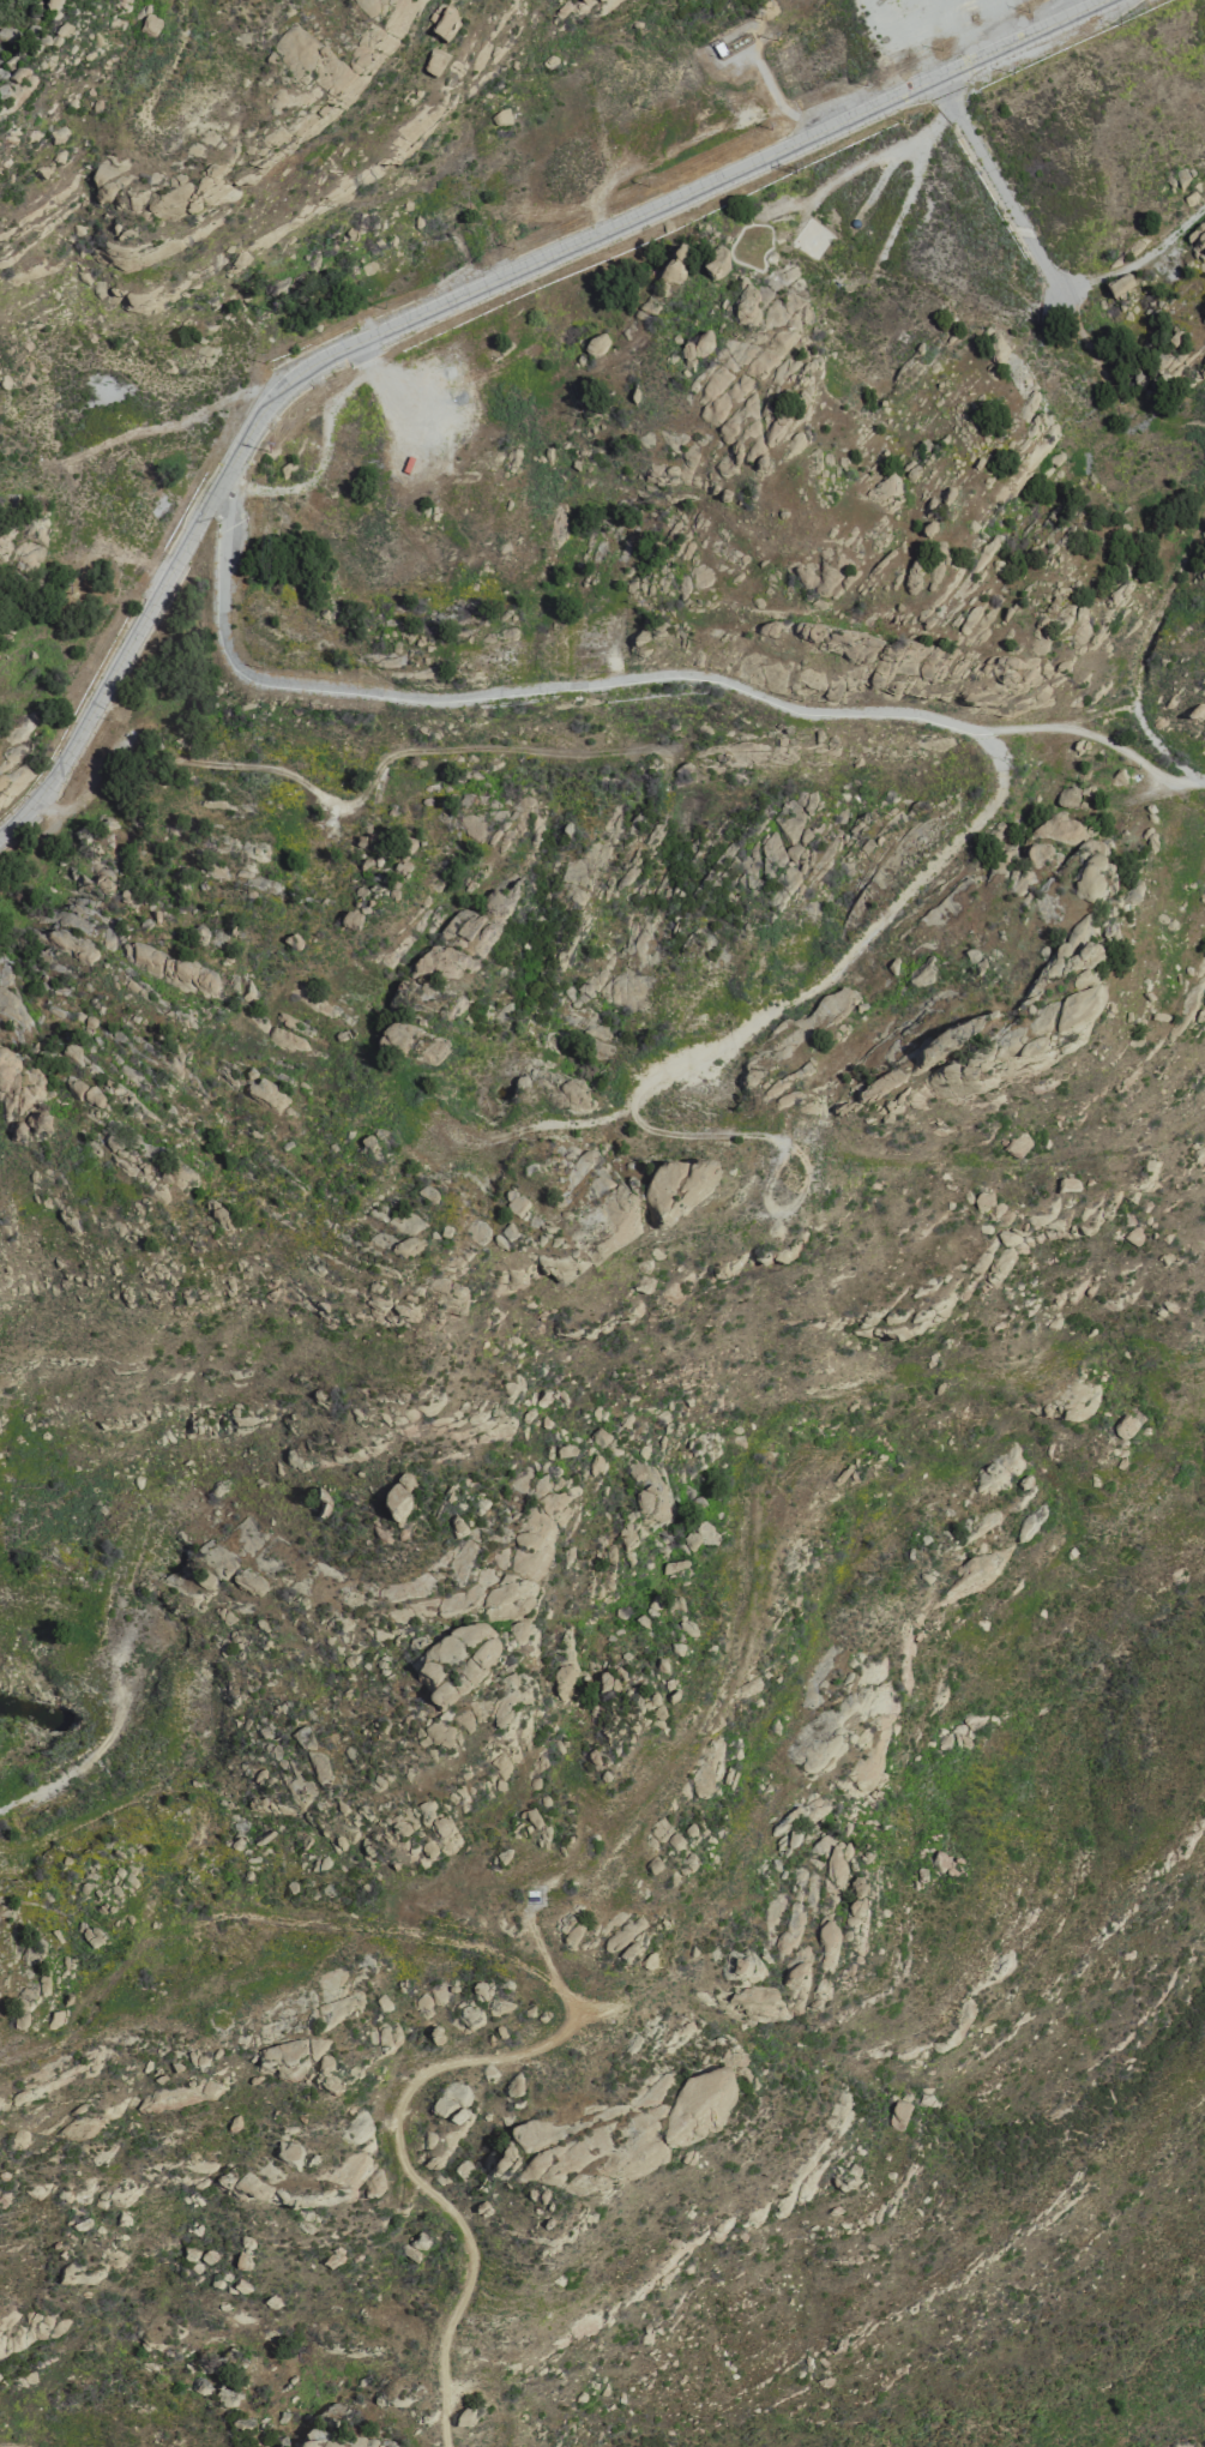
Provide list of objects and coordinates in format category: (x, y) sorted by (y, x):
building: (445, 26)
building: (433, 66)
building: (500, 118)
road: (1139, 260)
building: (716, 263)
road: (1052, 277)
road: (452, 299)
building: (597, 345)
building: (995, 350)
road: (1143, 657)
road: (860, 715)
road: (1054, 723)
building: (1067, 795)
building: (1133, 891)
building: (350, 921)
building: (975, 961)
building: (261, 1090)
building: (37, 1124)
building: (516, 1204)
building: (990, 1208)
building: (404, 1247)
building: (1125, 1426)
road: (77, 1767)
building: (573, 1934)
building: (647, 1960)
building: (741, 1967)
building: (43, 1985)
building: (898, 2115)
building: (502, 2162)
building: (462, 2168)
building: (850, 2177)
building: (343, 2441)

